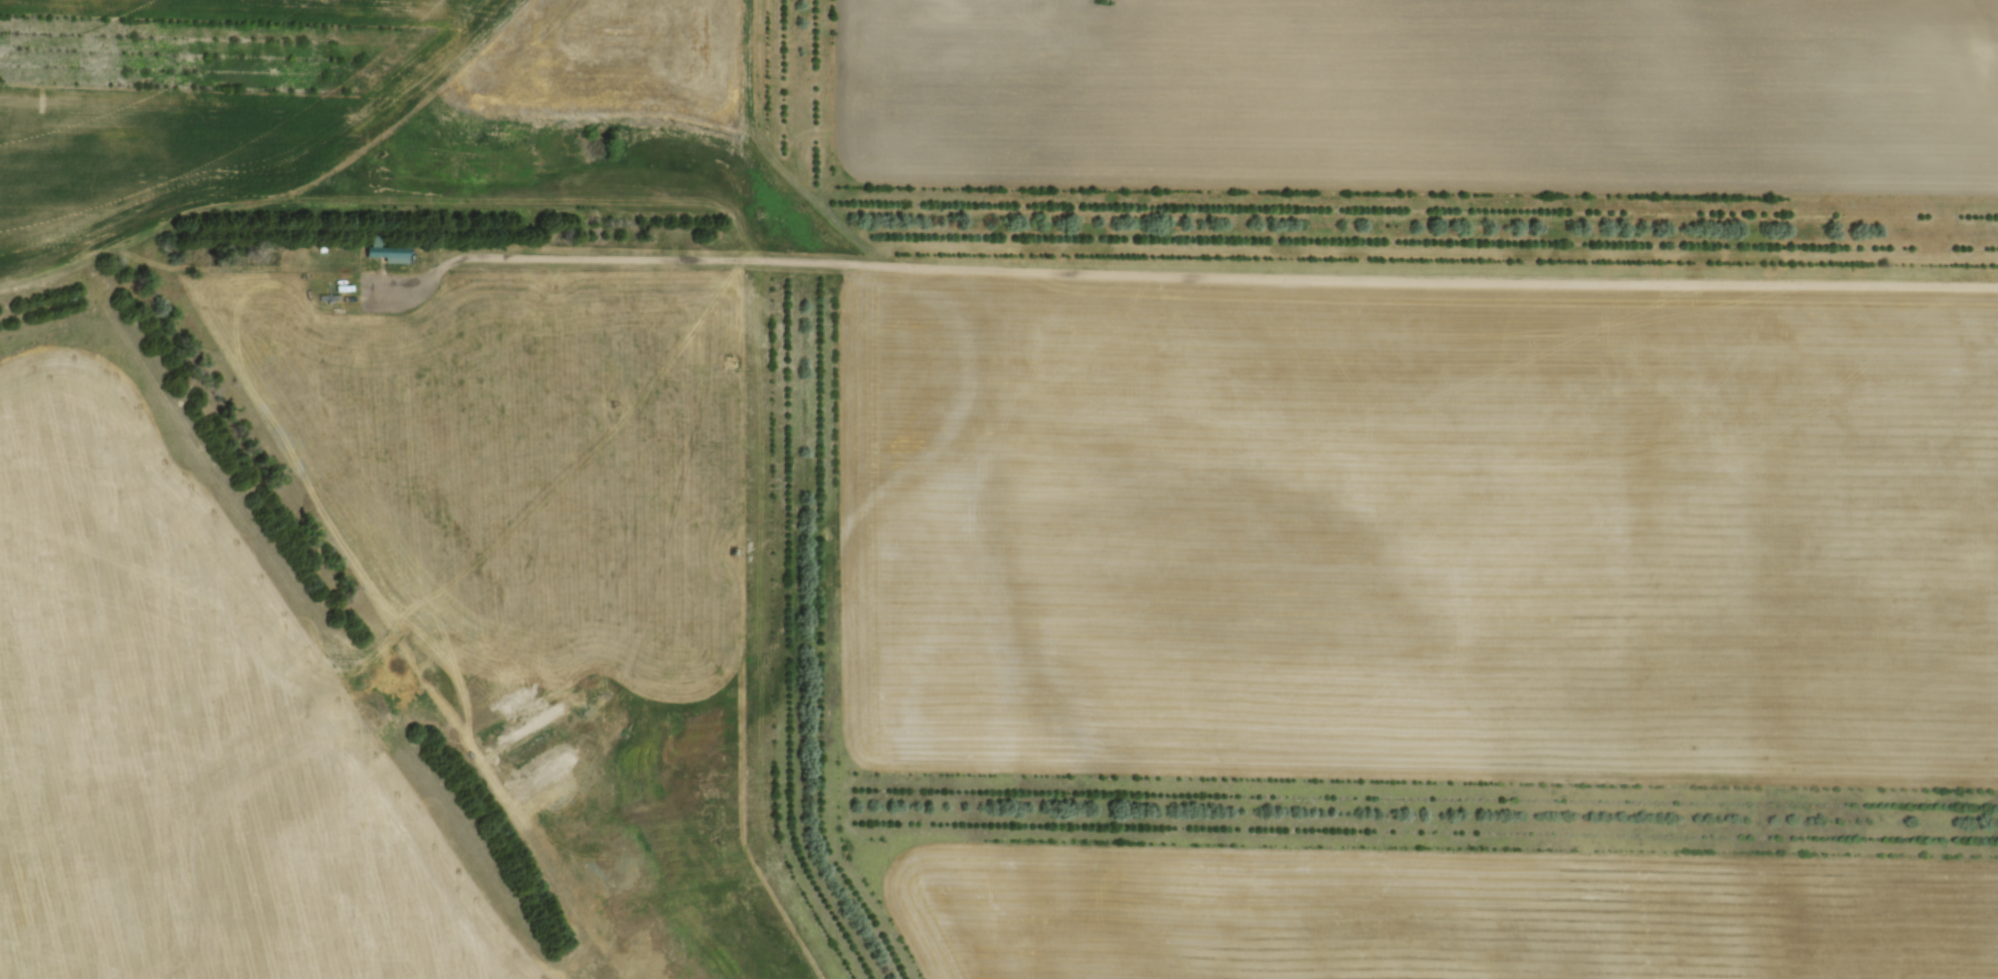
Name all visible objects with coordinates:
crop: (1466, 96)
crop: (178, 98)
building: (386, 251)
road: (1159, 272)
crop: (1428, 524)
crop: (188, 744)
crop: (1450, 921)

